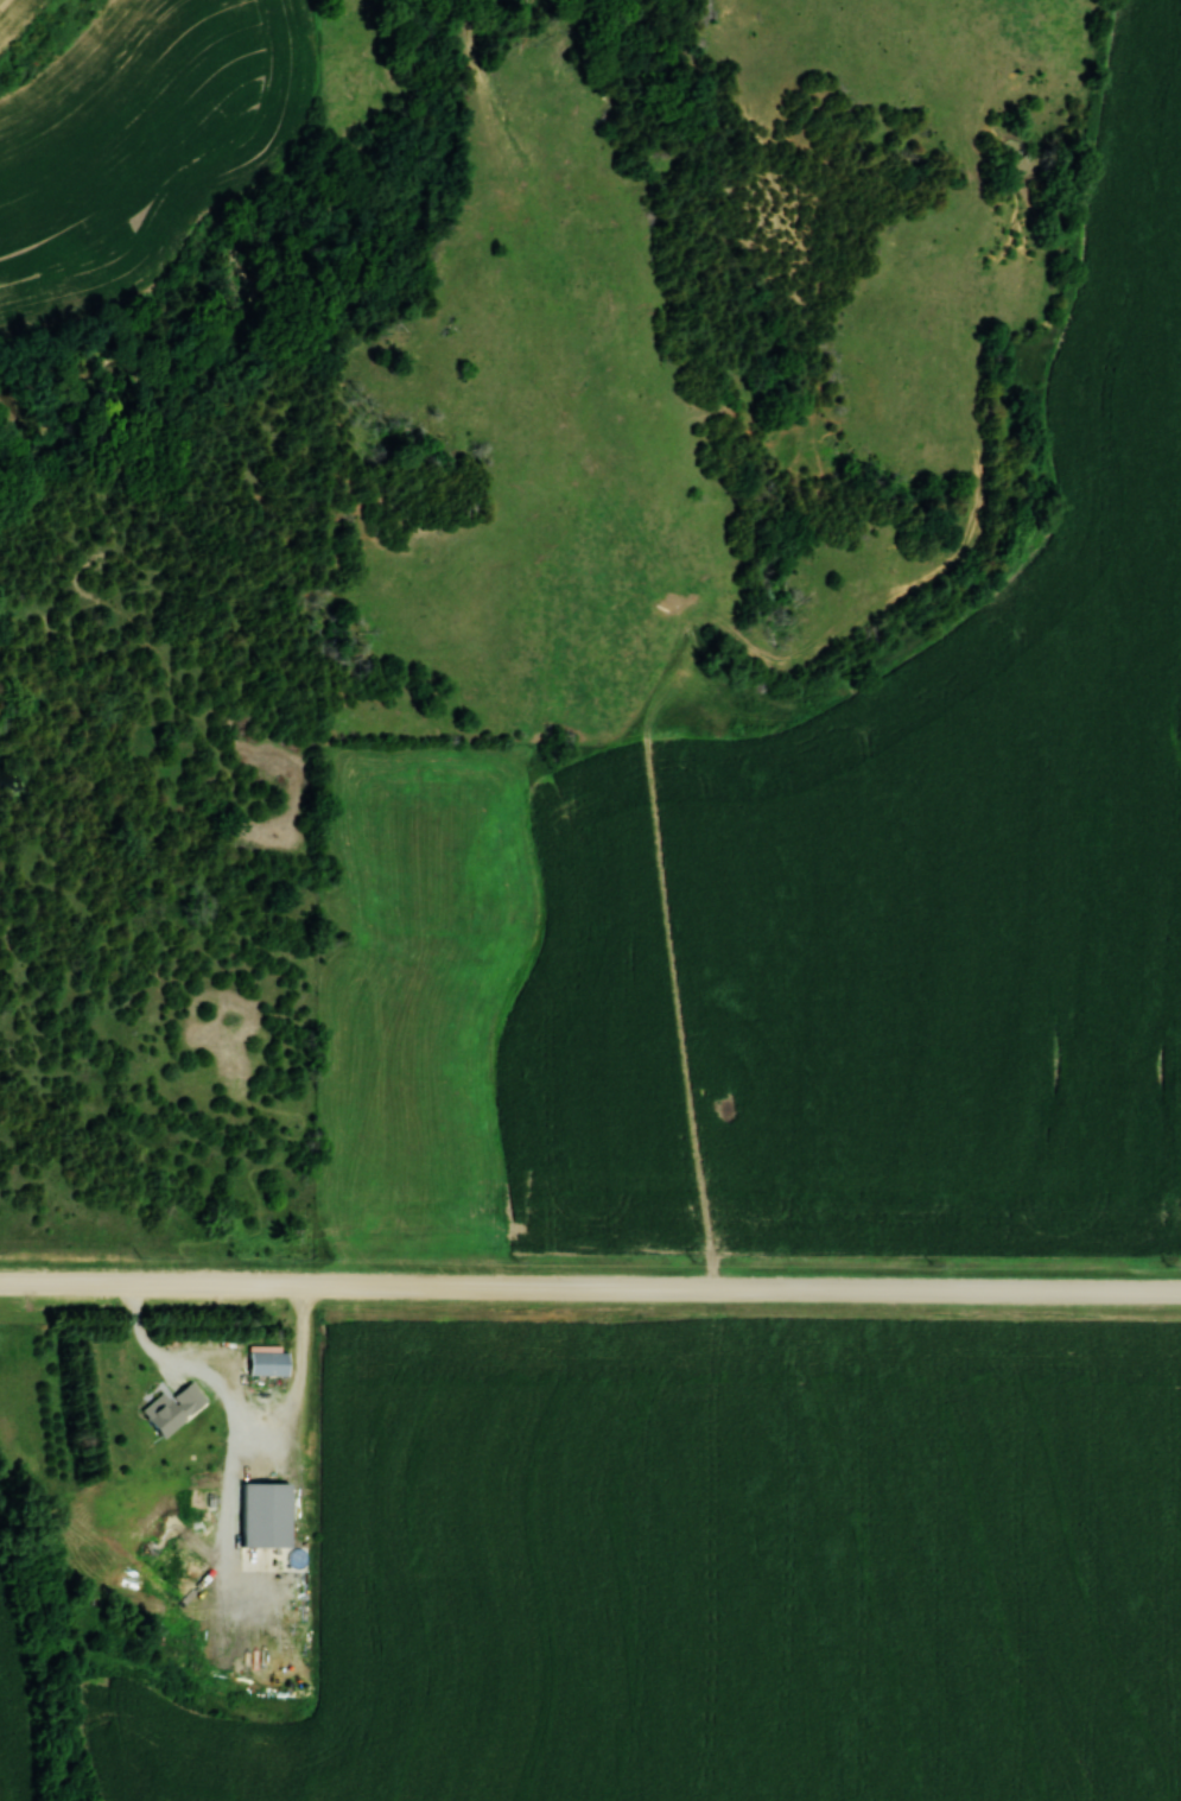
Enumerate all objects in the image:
road: (590, 1292)
building: (267, 1366)
building: (172, 1406)
building: (263, 1511)

